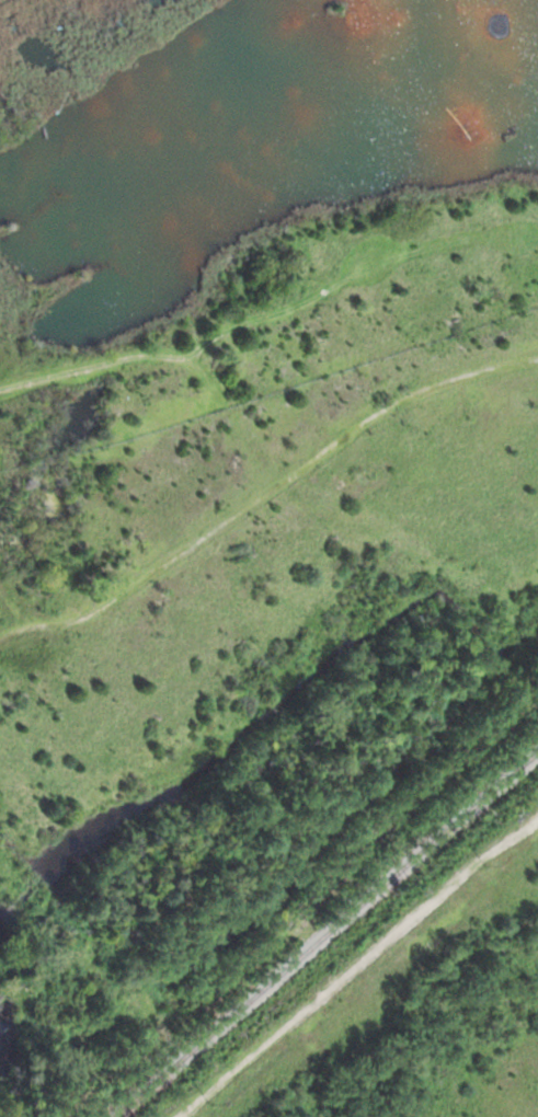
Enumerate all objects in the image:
power tower: (485, 865)
railway: (333, 942)
power tower: (213, 1104)

